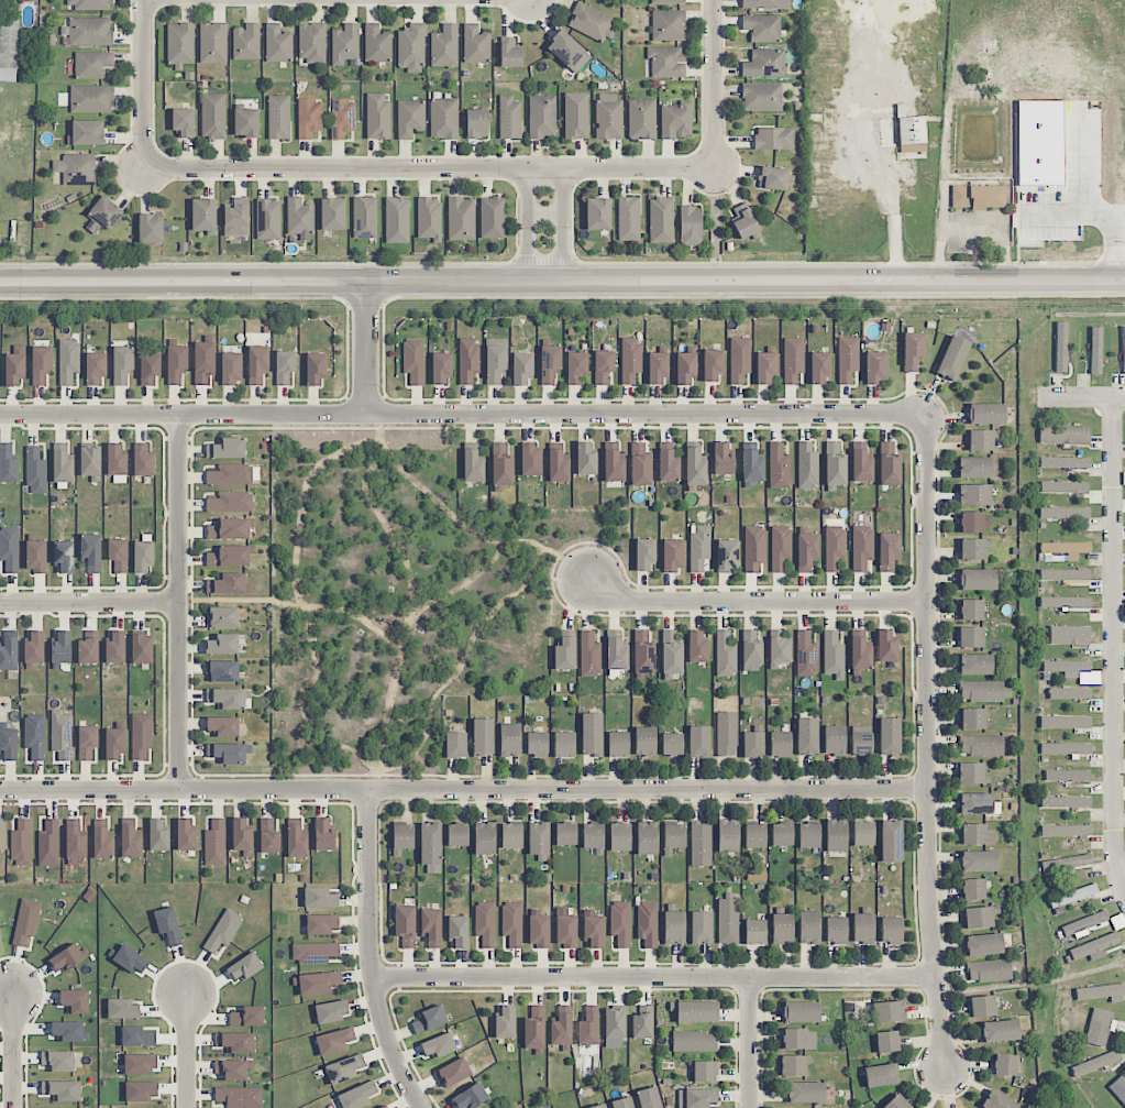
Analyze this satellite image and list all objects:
building: (666, 1)
building: (89, 4)
building: (766, 4)
building: (589, 22)
building: (668, 25)
building: (762, 28)
building: (90, 31)
building: (246, 42)
building: (212, 43)
building: (311, 43)
building: (180, 44)
building: (277, 44)
building: (345, 44)
building: (377, 44)
building: (475, 44)
building: (444, 46)
building: (410, 47)
building: (9, 51)
building: (567, 51)
building: (509, 53)
building: (665, 62)
building: (92, 64)
building: (764, 64)
road: (143, 85)
road: (714, 85)
building: (762, 97)
building: (91, 98)
building: (212, 116)
building: (377, 116)
building: (575, 116)
building: (278, 117)
building: (541, 117)
building: (309, 118)
building: (342, 118)
building: (410, 118)
building: (444, 118)
building: (509, 118)
building: (608, 119)
building: (641, 119)
building: (676, 120)
building: (183, 121)
building: (245, 122)
building: (477, 123)
building: (86, 132)
building: (912, 134)
building: (774, 138)
building: (76, 168)
road: (428, 169)
building: (772, 178)
building: (978, 196)
road: (1102, 204)
building: (597, 213)
building: (203, 215)
building: (332, 215)
road: (548, 215)
building: (102, 216)
building: (299, 217)
building: (364, 217)
building: (236, 218)
building: (492, 218)
building: (267, 219)
building: (429, 219)
building: (461, 219)
building: (628, 219)
building: (397, 220)
building: (661, 220)
building: (743, 221)
road: (530, 226)
road: (566, 226)
building: (691, 226)
building: (150, 229)
road: (562, 282)
building: (1061, 347)
road: (365, 348)
building: (912, 350)
building: (1095, 350)
building: (1123, 351)
building: (952, 358)
building: (630, 359)
building: (793, 359)
building: (847, 359)
building: (413, 360)
building: (467, 360)
building: (495, 360)
building: (739, 360)
building: (68, 361)
building: (203, 362)
building: (176, 363)
building: (549, 363)
building: (41, 364)
building: (122, 364)
building: (257, 364)
building: (14, 365)
building: (713, 365)
building: (284, 366)
building: (603, 366)
building: (95, 367)
building: (150, 367)
building: (231, 367)
building: (315, 367)
building: (441, 367)
building: (576, 367)
building: (765, 367)
building: (819, 367)
building: (875, 367)
building: (521, 369)
building: (657, 369)
building: (685, 369)
road: (1082, 397)
road: (463, 414)
building: (986, 414)
building: (1065, 434)
building: (980, 440)
building: (227, 448)
building: (585, 459)
building: (723, 459)
building: (115, 460)
building: (530, 460)
building: (90, 461)
building: (143, 461)
building: (1065, 462)
building: (62, 464)
building: (835, 464)
building: (861, 464)
building: (889, 464)
building: (9, 465)
building: (501, 465)
building: (640, 465)
building: (668, 465)
building: (695, 465)
building: (751, 465)
building: (807, 465)
building: (473, 467)
building: (558, 467)
building: (614, 467)
building: (779, 467)
building: (975, 468)
building: (35, 471)
building: (1063, 486)
building: (974, 495)
building: (230, 502)
building: (1063, 513)
building: (971, 522)
building: (229, 529)
building: (698, 547)
building: (780, 547)
building: (834, 547)
building: (861, 547)
building: (753, 548)
building: (10, 549)
building: (972, 549)
building: (1066, 549)
building: (887, 550)
building: (806, 551)
building: (91, 552)
building: (118, 555)
building: (644, 555)
building: (672, 555)
building: (727, 555)
building: (35, 556)
building: (142, 556)
building: (230, 556)
building: (64, 557)
building: (1065, 574)
building: (977, 579)
building: (229, 584)
park: (400, 597)
road: (754, 600)
road: (89, 602)
road: (178, 602)
building: (1065, 602)
building: (970, 610)
building: (222, 617)
building: (1069, 635)
building: (971, 637)
building: (222, 644)
building: (886, 646)
building: (115, 647)
building: (697, 647)
building: (34, 648)
building: (88, 648)
building: (141, 648)
road: (1112, 648)
building: (60, 649)
building: (750, 650)
building: (9, 651)
building: (779, 651)
building: (643, 652)
building: (671, 652)
building: (564, 654)
building: (616, 654)
building: (725, 654)
building: (806, 654)
building: (860, 654)
building: (589, 655)
building: (834, 655)
building: (974, 665)
building: (1067, 667)
building: (222, 671)
building: (984, 691)
building: (1069, 693)
building: (227, 698)
building: (972, 718)
building: (1065, 722)
building: (222, 726)
building: (726, 733)
building: (592, 734)
building: (60, 735)
building: (141, 735)
building: (34, 736)
building: (807, 736)
building: (890, 736)
building: (483, 737)
building: (509, 739)
building: (835, 739)
building: (644, 741)
building: (87, 742)
building: (698, 742)
building: (114, 743)
road: (927, 743)
building: (8, 744)
building: (537, 744)
building: (564, 744)
building: (618, 744)
building: (672, 744)
building: (780, 744)
building: (861, 744)
building: (455, 745)
building: (752, 745)
building: (981, 745)
building: (1066, 748)
building: (229, 753)
building: (972, 774)
building: (1067, 775)
road: (463, 789)
building: (1066, 802)
building: (974, 803)
building: (1066, 830)
building: (565, 833)
building: (862, 833)
building: (1, 834)
building: (782, 834)
building: (977, 834)
building: (158, 835)
building: (186, 835)
building: (241, 835)
building: (323, 835)
building: (457, 835)
building: (511, 835)
building: (727, 835)
building: (754, 835)
building: (808, 835)
building: (836, 835)
building: (268, 836)
building: (619, 836)
building: (402, 837)
building: (593, 837)
building: (673, 837)
building: (485, 838)
building: (538, 838)
building: (647, 838)
building: (891, 841)
building: (130, 842)
building: (296, 842)
building: (21, 843)
building: (75, 843)
building: (102, 843)
building: (214, 843)
building: (48, 844)
building: (701, 844)
building: (430, 847)
building: (978, 860)
building: (1067, 863)
road: (1121, 871)
building: (973, 889)
building: (1072, 896)
building: (320, 898)
building: (979, 917)
building: (727, 919)
building: (25, 921)
building: (1084, 922)
building: (322, 923)
building: (511, 923)
building: (620, 923)
building: (648, 923)
building: (485, 924)
building: (167, 925)
building: (405, 925)
building: (431, 926)
building: (674, 928)
building: (701, 928)
building: (782, 928)
building: (808, 928)
building: (862, 928)
building: (836, 930)
building: (891, 930)
building: (223, 931)
building: (539, 931)
building: (565, 931)
building: (457, 932)
building: (593, 932)
building: (754, 932)
building: (983, 944)
building: (1094, 947)
building: (313, 952)
road: (372, 954)
building: (66, 958)
building: (130, 959)
building: (244, 967)
building: (989, 970)
road: (654, 977)
building: (318, 983)
building: (75, 1001)
building: (982, 1006)
building: (122, 1009)
building: (695, 1011)
building: (889, 1011)
building: (330, 1012)
building: (801, 1012)
building: (247, 1017)
building: (429, 1019)
building: (505, 1022)
building: (615, 1023)
building: (641, 1025)
building: (1100, 1025)
building: (534, 1028)
building: (562, 1028)
building: (588, 1029)
building: (1001, 1030)
building: (67, 1031)
building: (137, 1036)
building: (798, 1039)
building: (334, 1041)
building: (693, 1041)
building: (886, 1041)
building: (235, 1042)
road: (751, 1043)
building: (438, 1045)
road: (11, 1051)
road: (185, 1051)
building: (58, 1061)
building: (1095, 1063)
building: (140, 1064)
building: (1005, 1064)
building: (794, 1065)
building: (344, 1068)
building: (231, 1069)
building: (704, 1071)
building: (453, 1073)
building: (881, 1075)
building: (1118, 1088)
building: (62, 1090)
building: (141, 1090)
building: (805, 1091)
building: (356, 1096)
building: (239, 1097)
building: (470, 1097)
building: (697, 1097)
building: (649, 1098)
building: (997, 1101)
building: (622, 1102)
building: (896, 1102)
building: (598, 1106)
building: (383, 1107)

